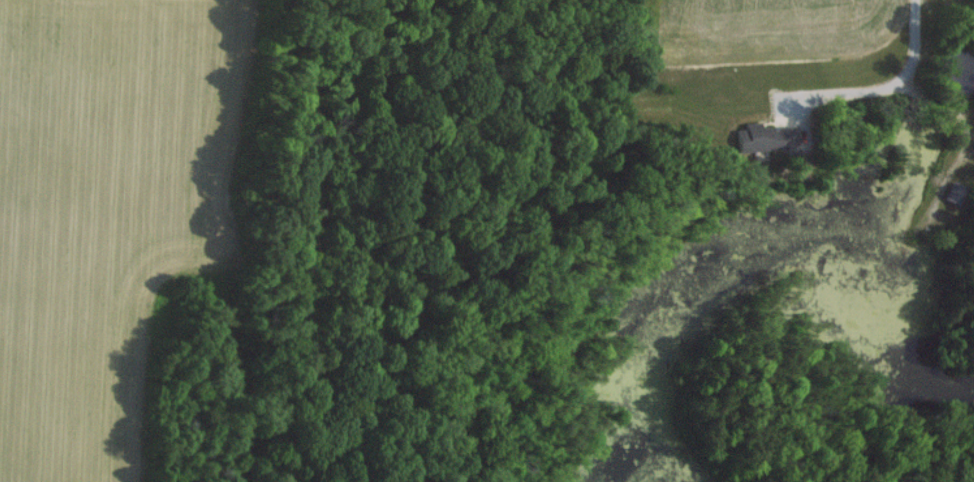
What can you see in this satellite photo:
road: (915, 60)
road: (843, 94)
building: (772, 134)
building: (954, 191)

